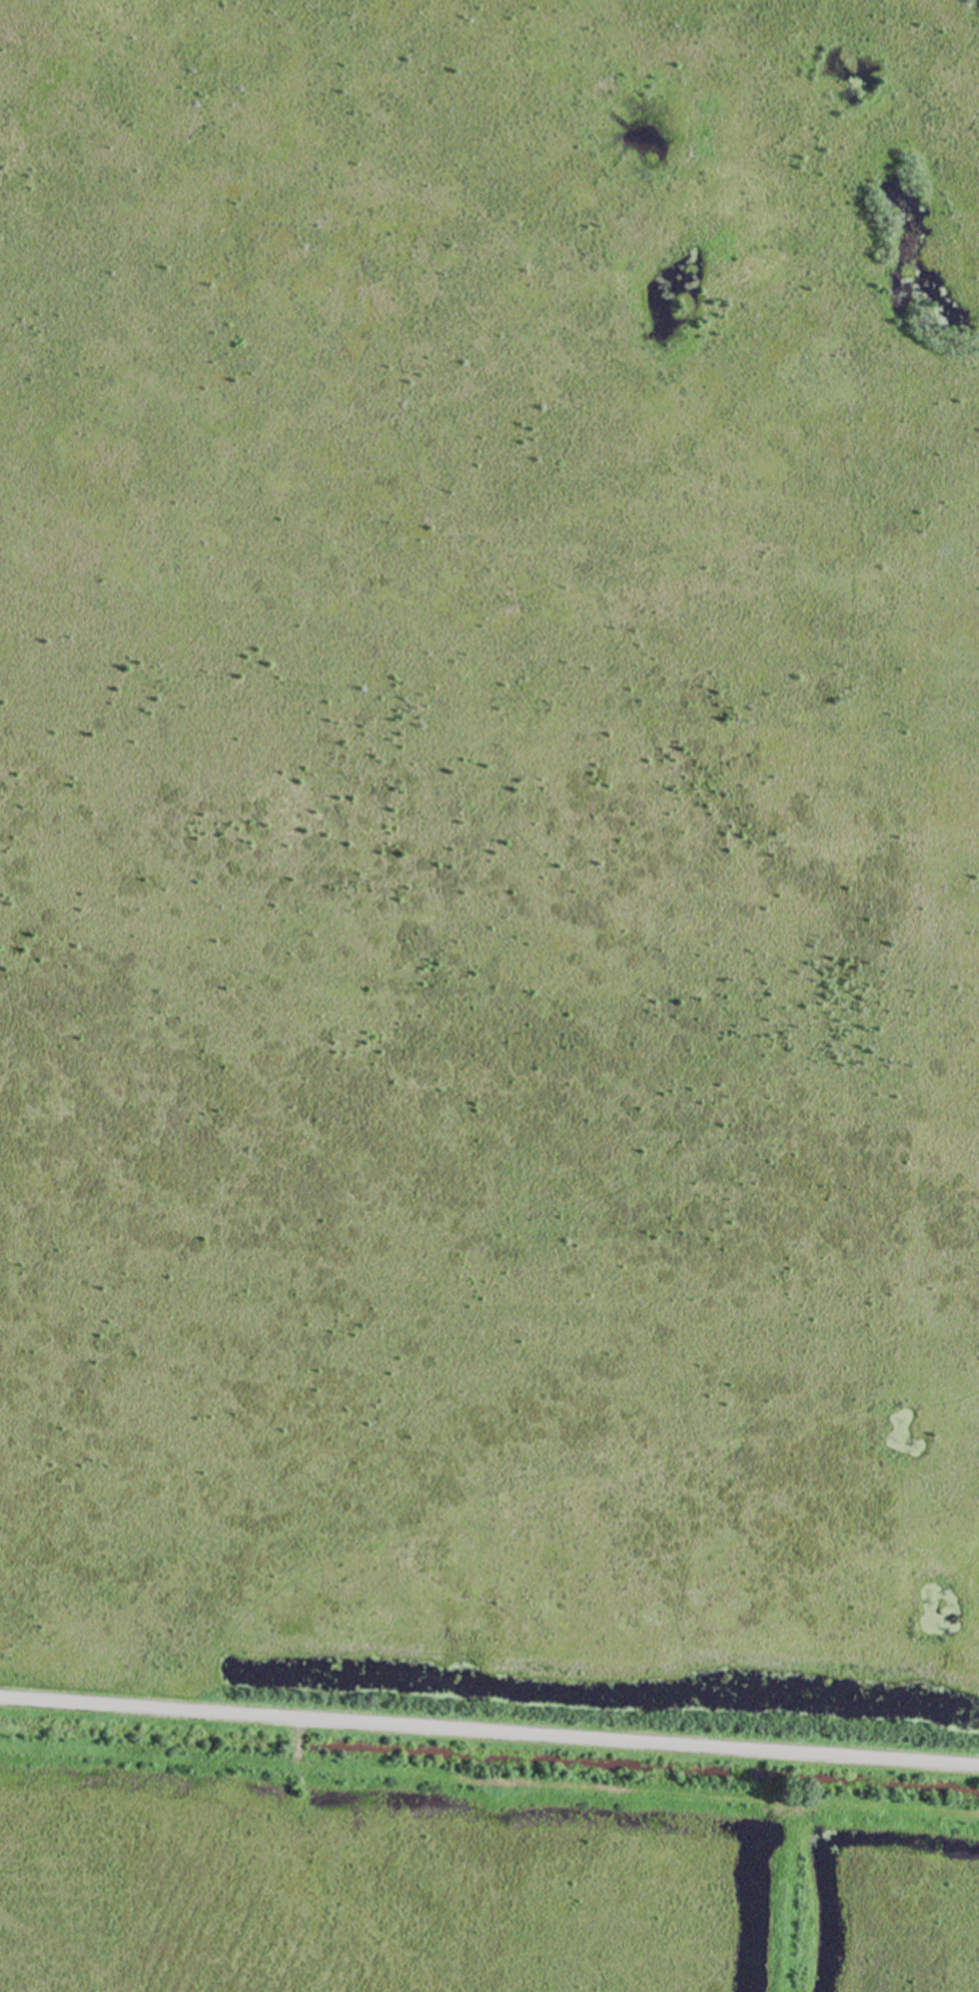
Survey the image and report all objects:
road: (489, 1735)

